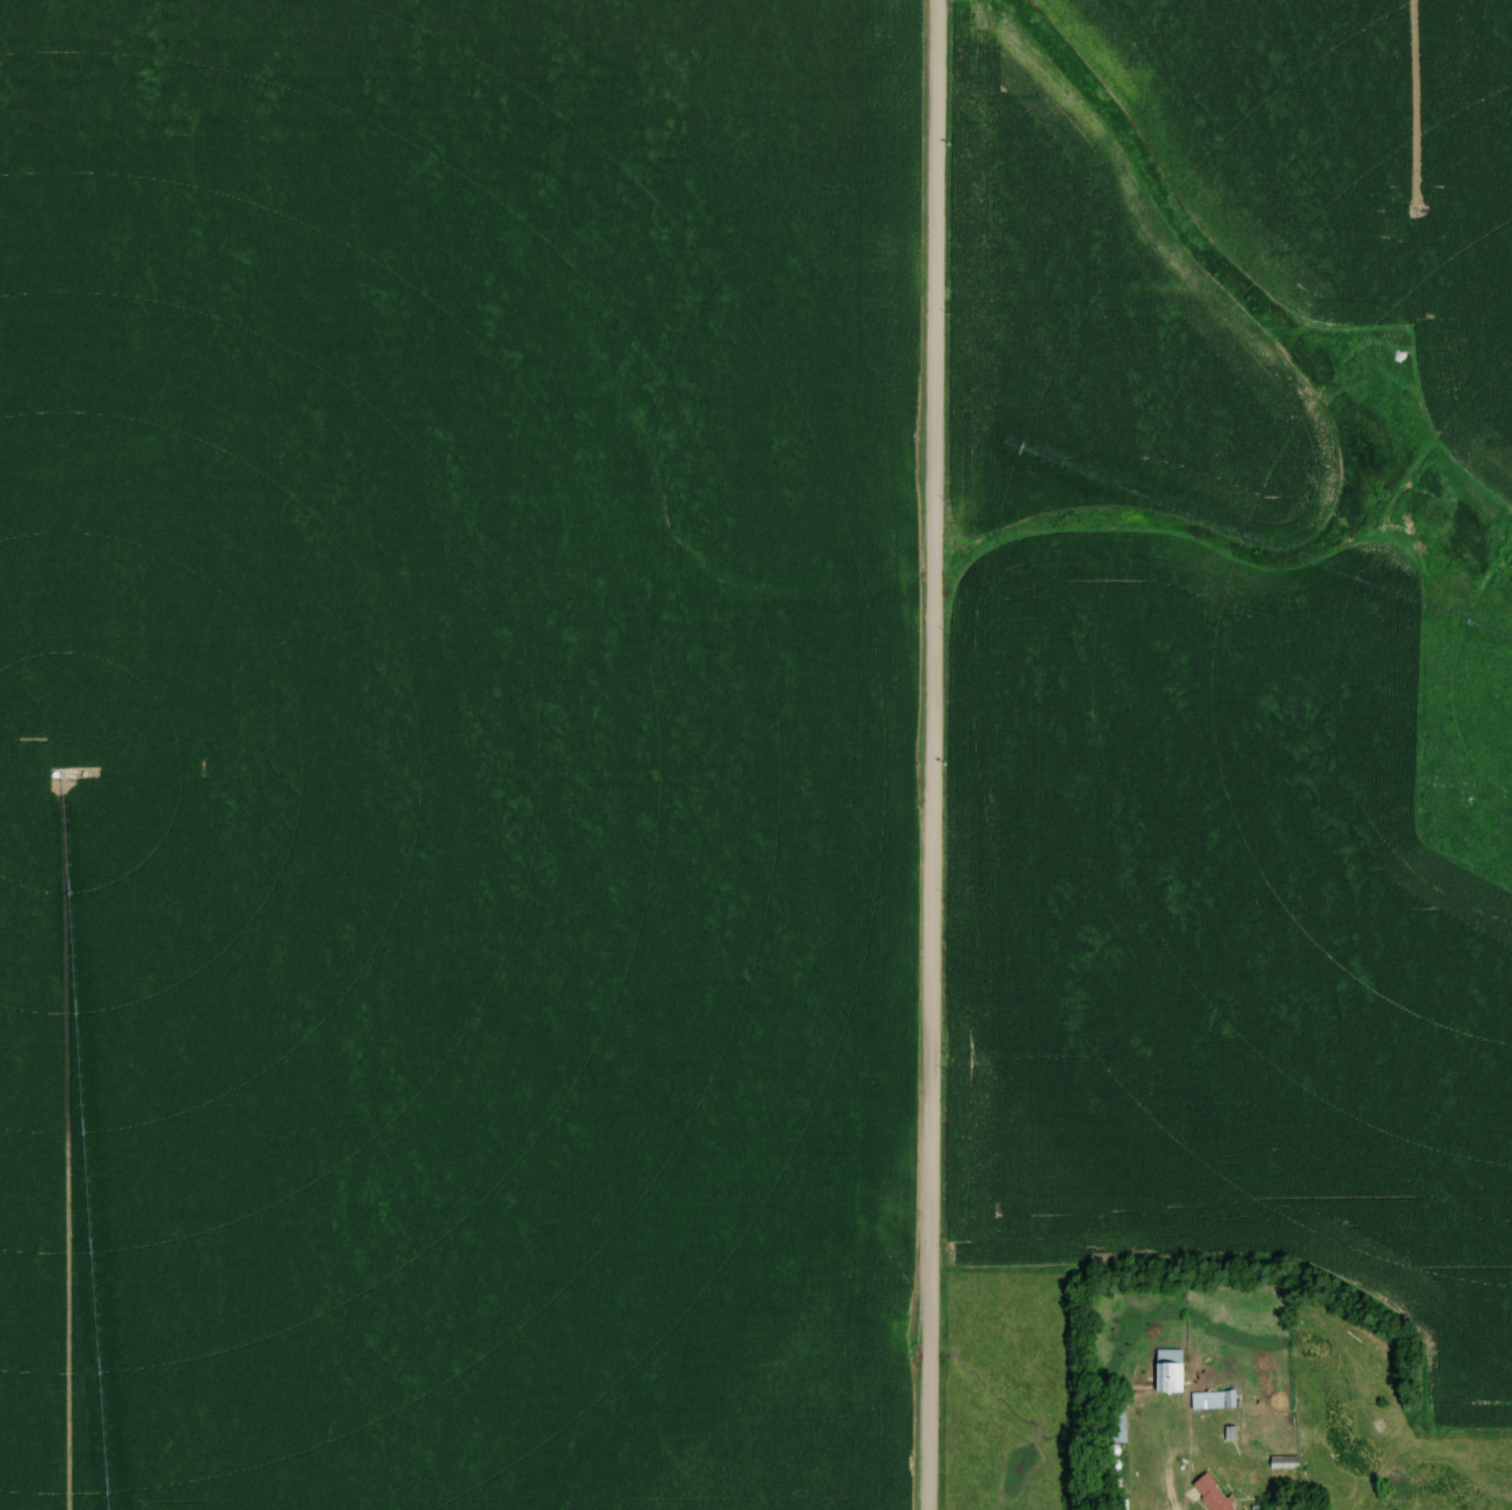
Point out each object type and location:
crop: (452, 754)
road: (935, 755)
building: (1172, 1369)
building: (1215, 1399)
building: (1120, 1425)
building: (1287, 1461)
building: (1214, 1494)
road: (1174, 1503)

